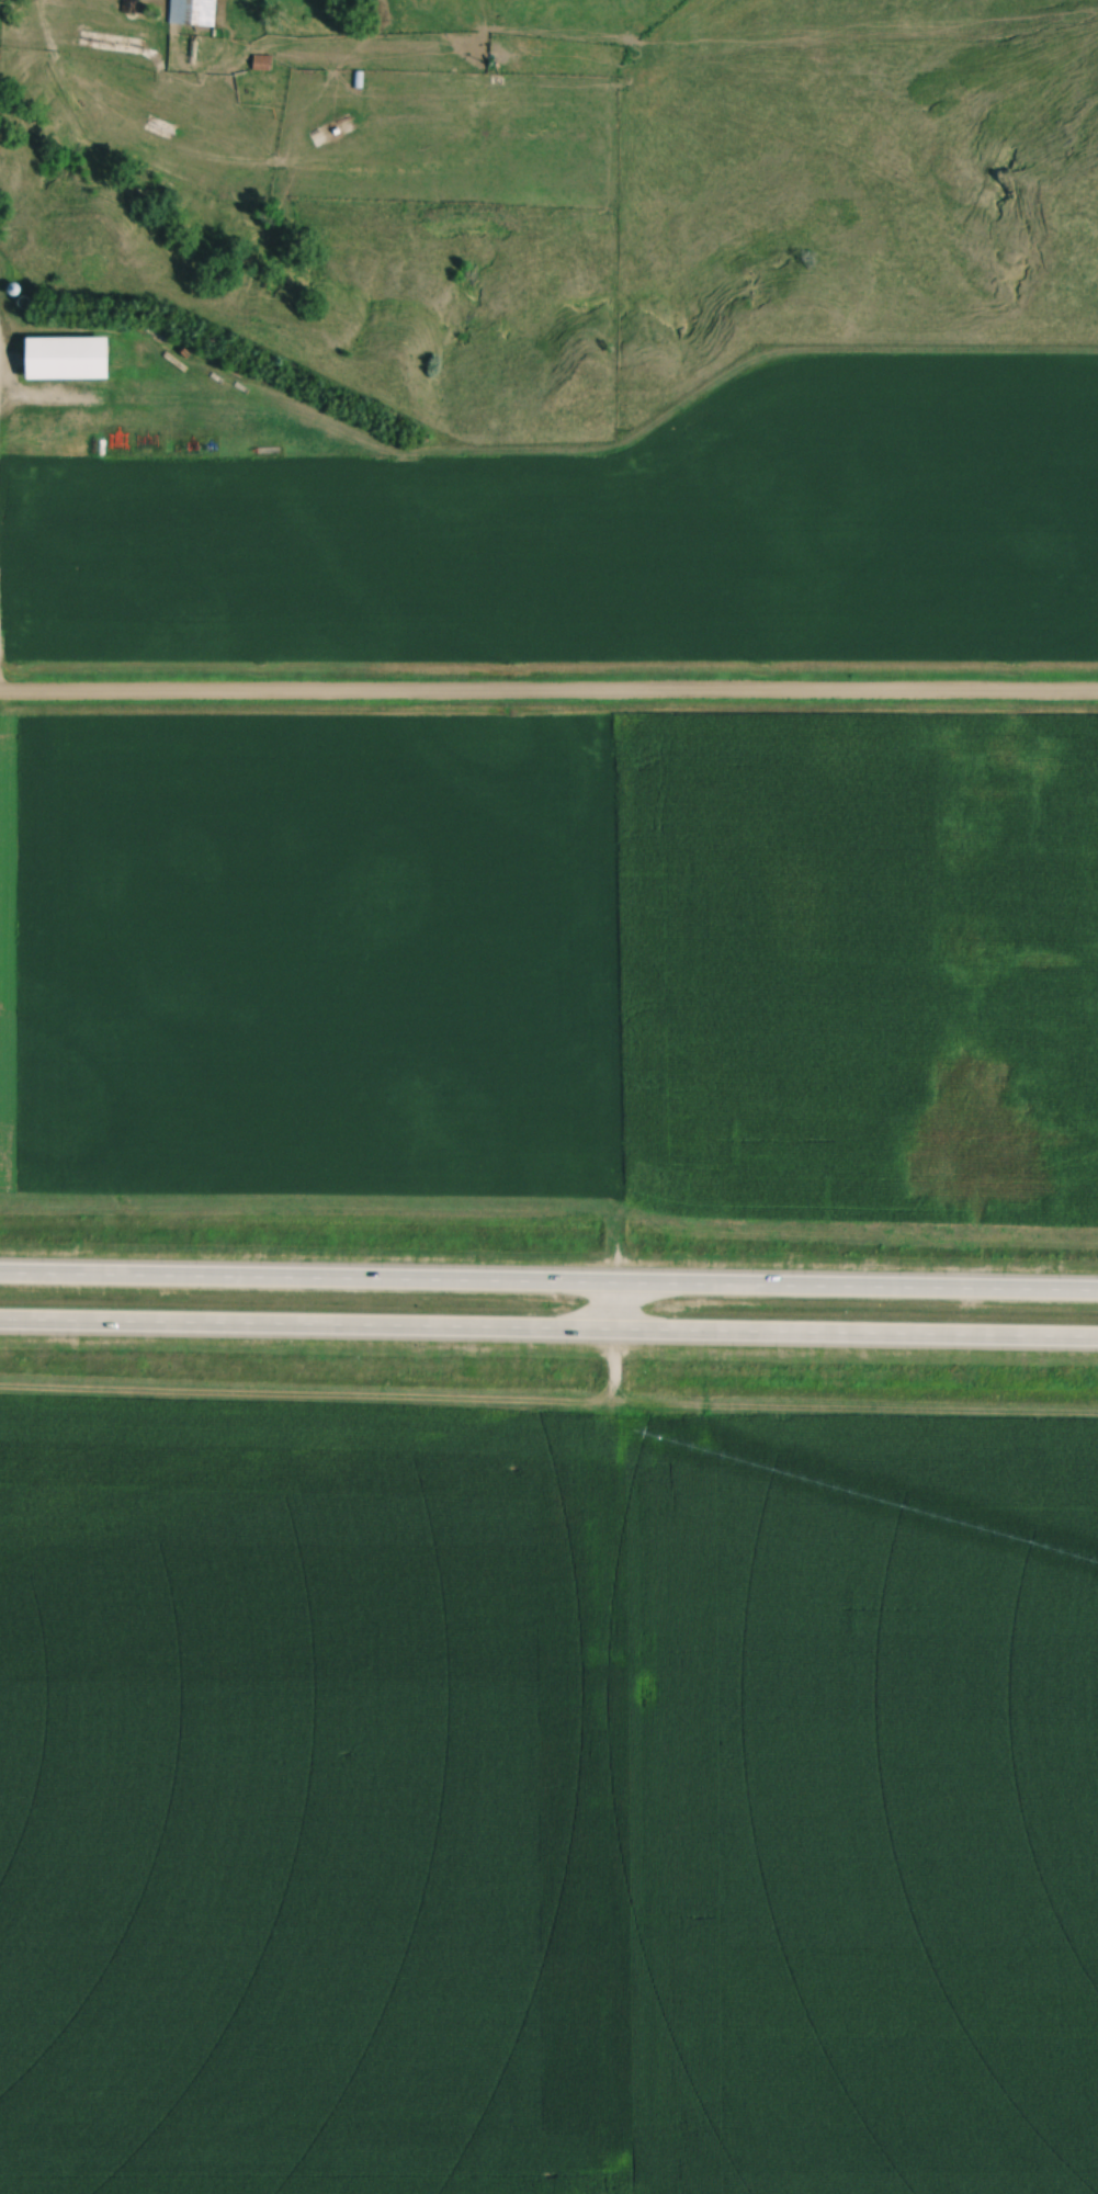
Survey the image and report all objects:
building: (129, 8)
building: (195, 12)
building: (264, 64)
building: (73, 359)
road: (548, 697)
road: (548, 1281)
road: (610, 1320)
road: (548, 1326)

